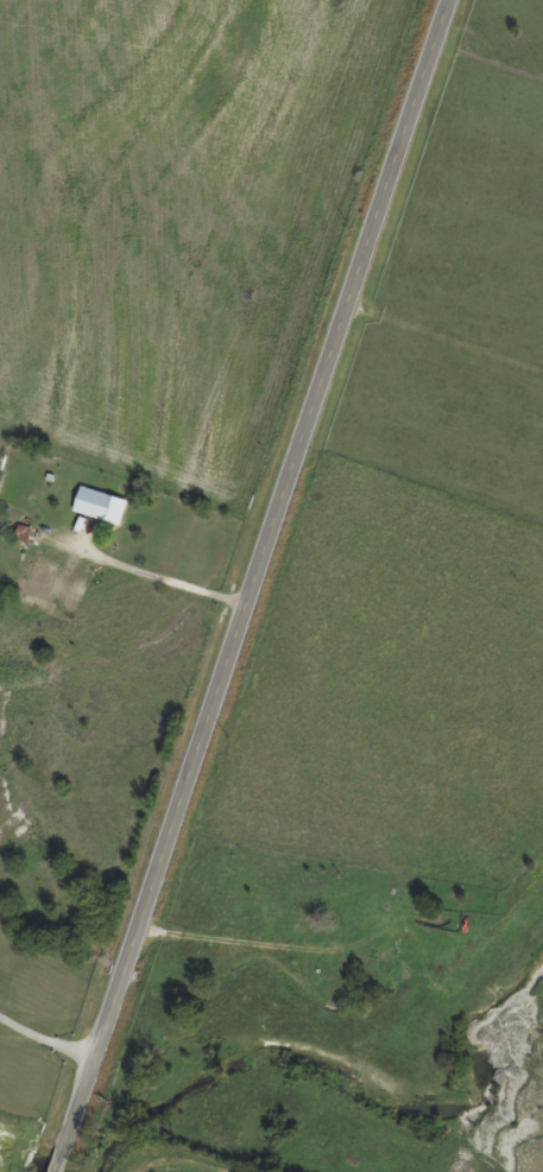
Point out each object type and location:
building: (96, 505)
road: (158, 577)
road: (252, 585)
road: (44, 1044)

